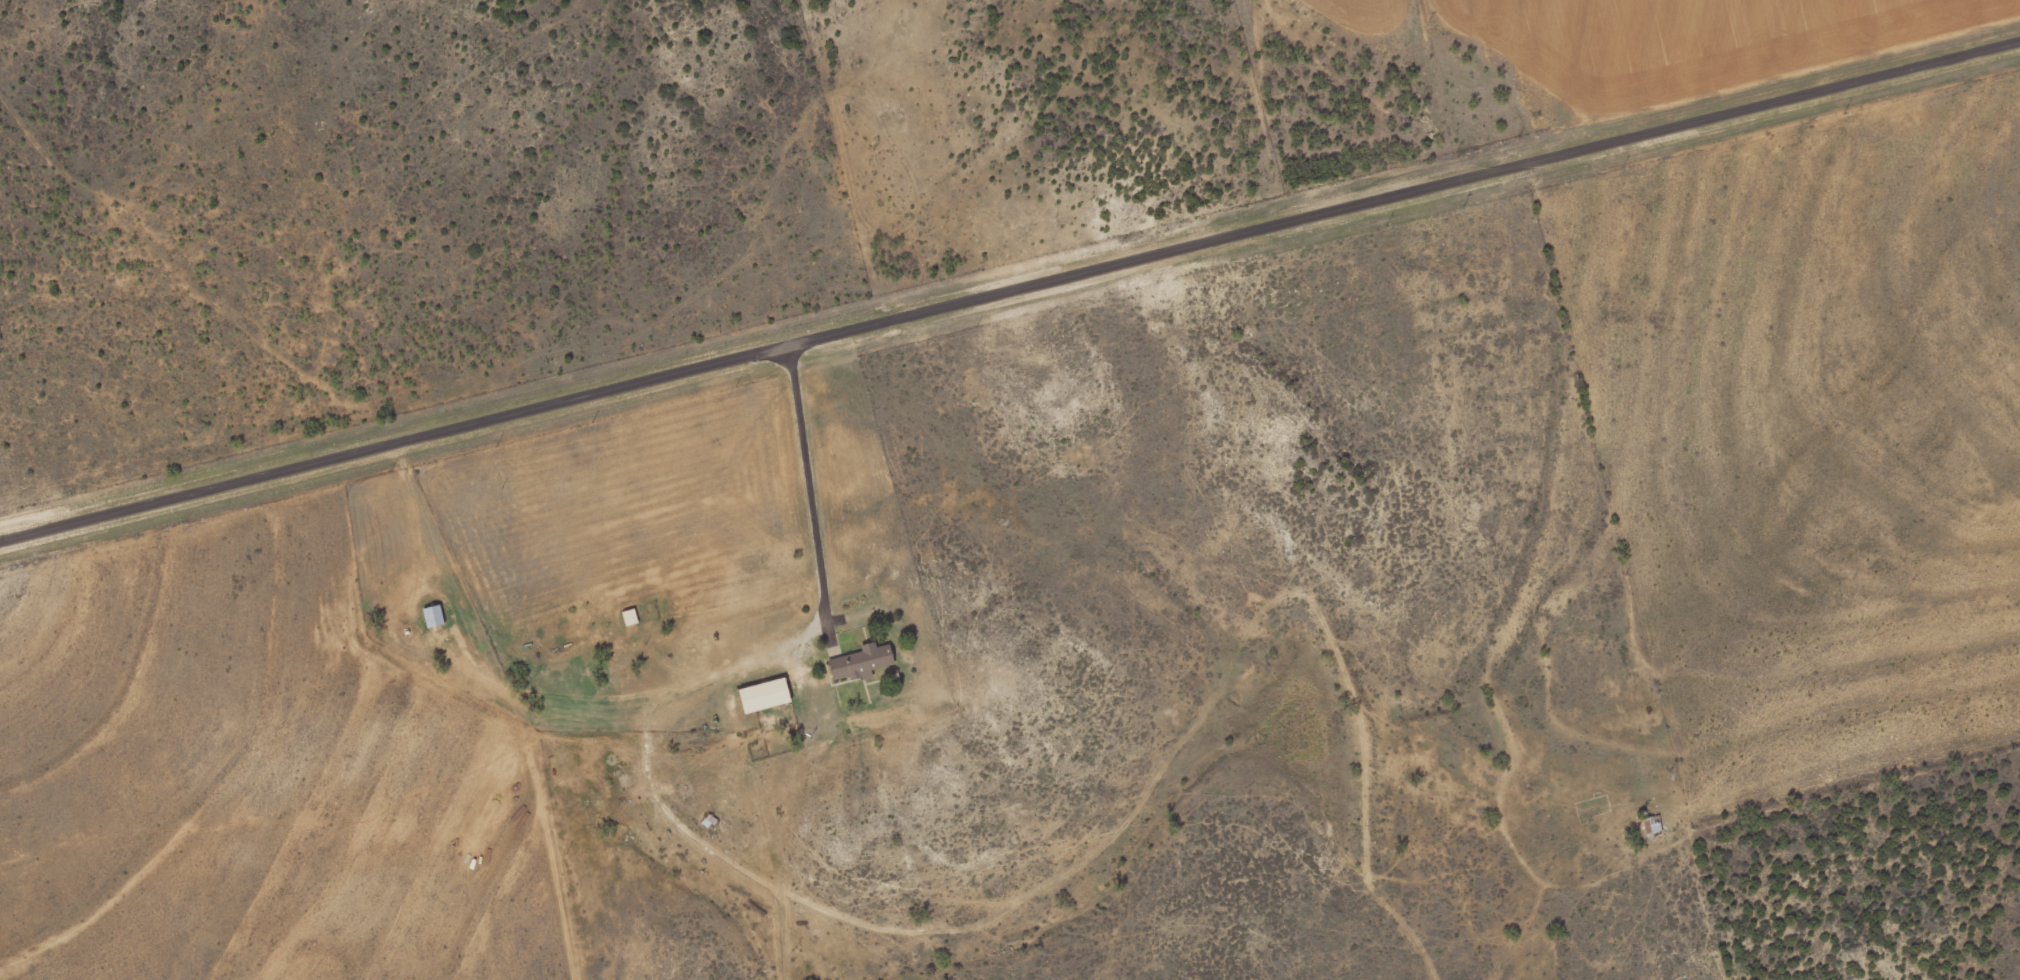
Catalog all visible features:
road: (1010, 291)
building: (435, 615)
building: (631, 616)
building: (862, 661)
building: (766, 694)
road: (1878, 770)

